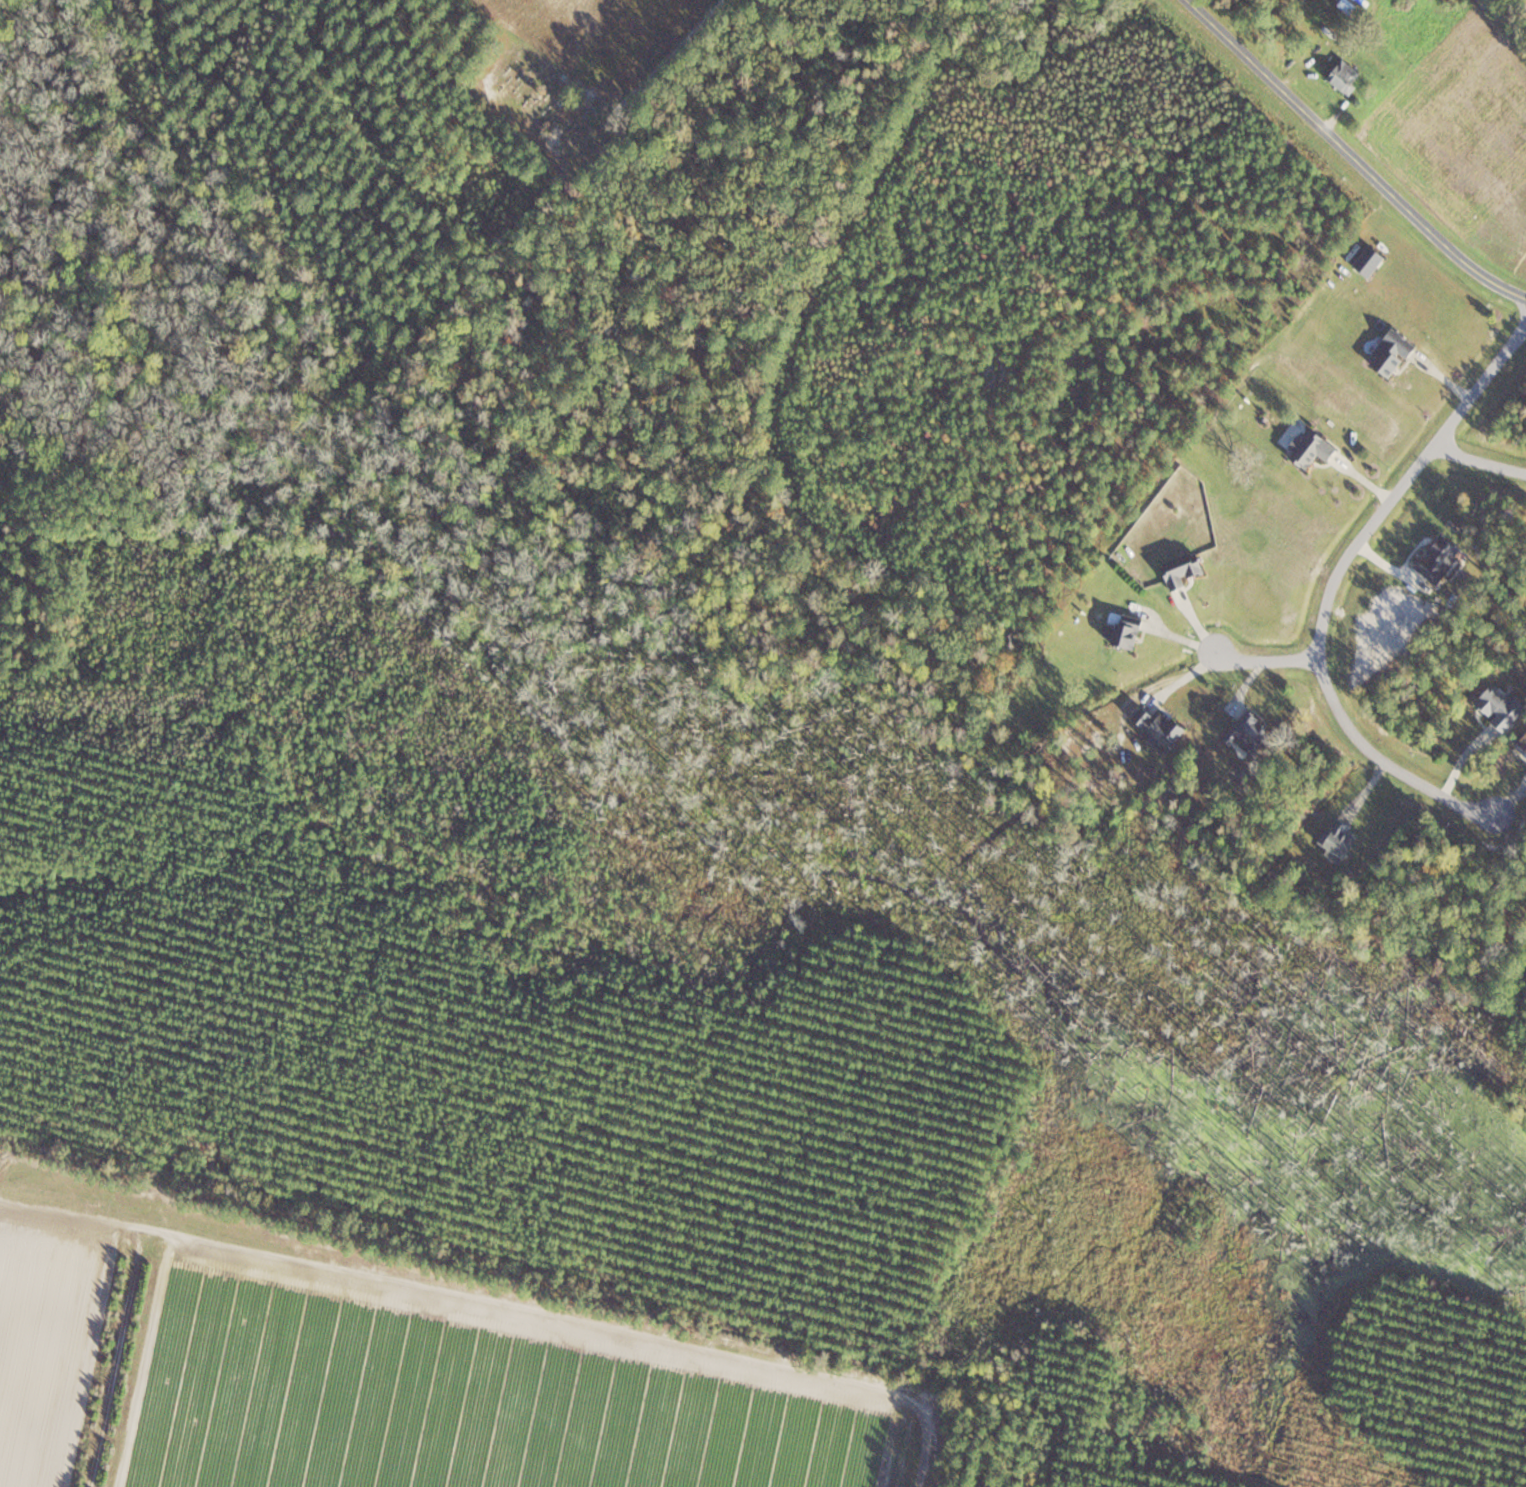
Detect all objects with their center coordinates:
building: (1346, 77)
road: (1355, 153)
building: (1311, 446)
road: (1479, 464)
building: (1440, 558)
building: (1182, 568)
road: (1327, 590)
road: (1269, 660)
building: (1249, 732)
building: (1523, 743)
building: (1340, 839)

